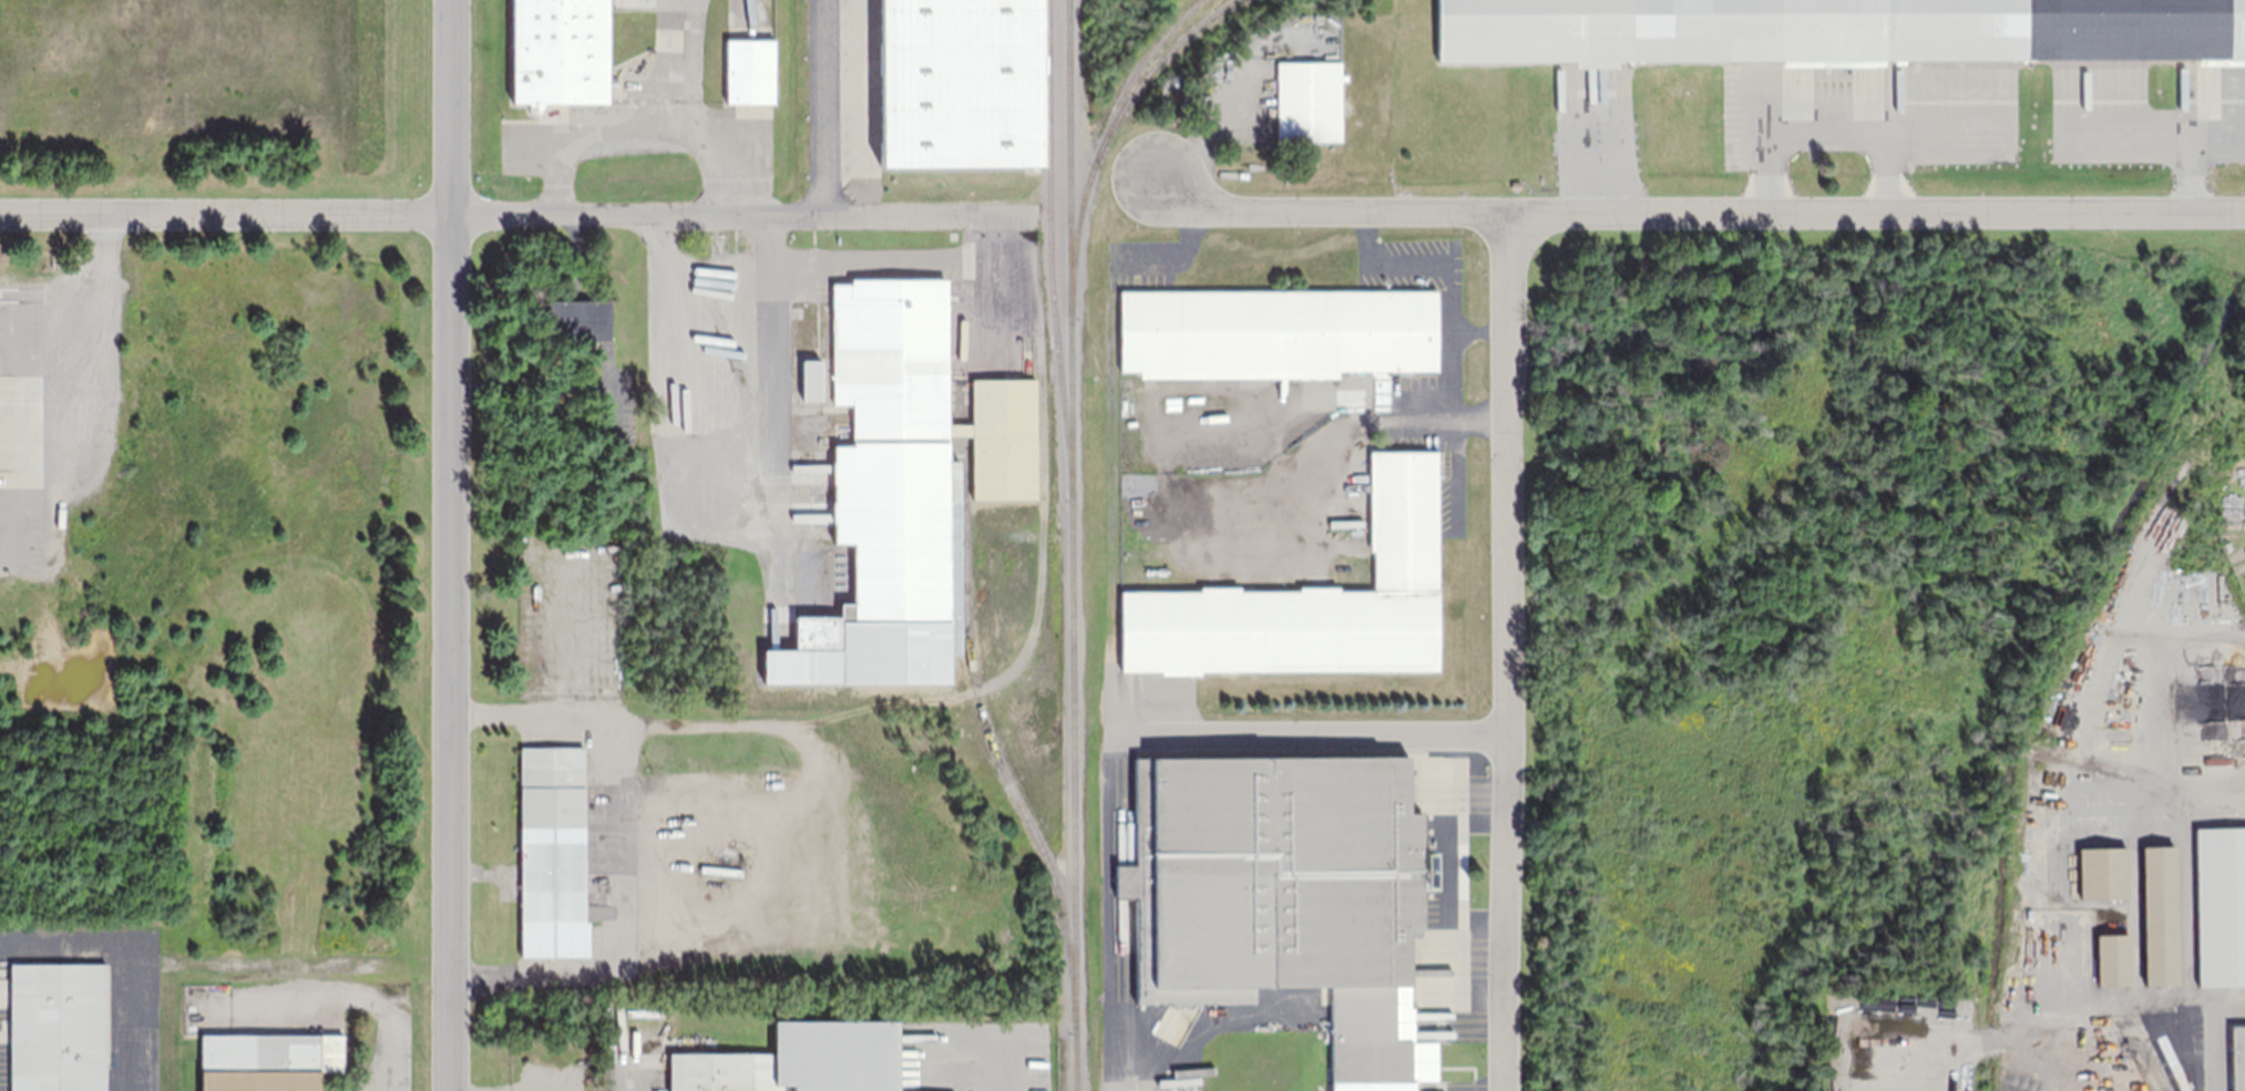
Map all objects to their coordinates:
building: (1838, 30)
road: (342, 50)
building: (560, 52)
railway: (1151, 68)
building: (750, 71)
building: (949, 84)
building: (1309, 100)
railway: (1101, 143)
road: (1698, 206)
road: (486, 215)
railway: (1049, 248)
building: (796, 311)
building: (580, 319)
building: (808, 327)
building: (1277, 332)
building: (909, 463)
building: (2237, 477)
building: (114, 483)
road: (449, 545)
railway: (1072, 545)
building: (1311, 600)
road: (1504, 651)
railway: (986, 732)
road: (1312, 735)
road: (2191, 791)
building: (553, 852)
building: (2103, 872)
building: (2220, 905)
building: (2159, 914)
road: (2187, 943)
road: (133, 956)
building: (2112, 959)
road: (357, 992)
building: (1886, 1002)
building: (646, 1012)
road: (2043, 1018)
building: (58, 1027)
building: (2237, 1057)
building: (801, 1060)
building: (268, 1061)
building: (1373, 1085)

